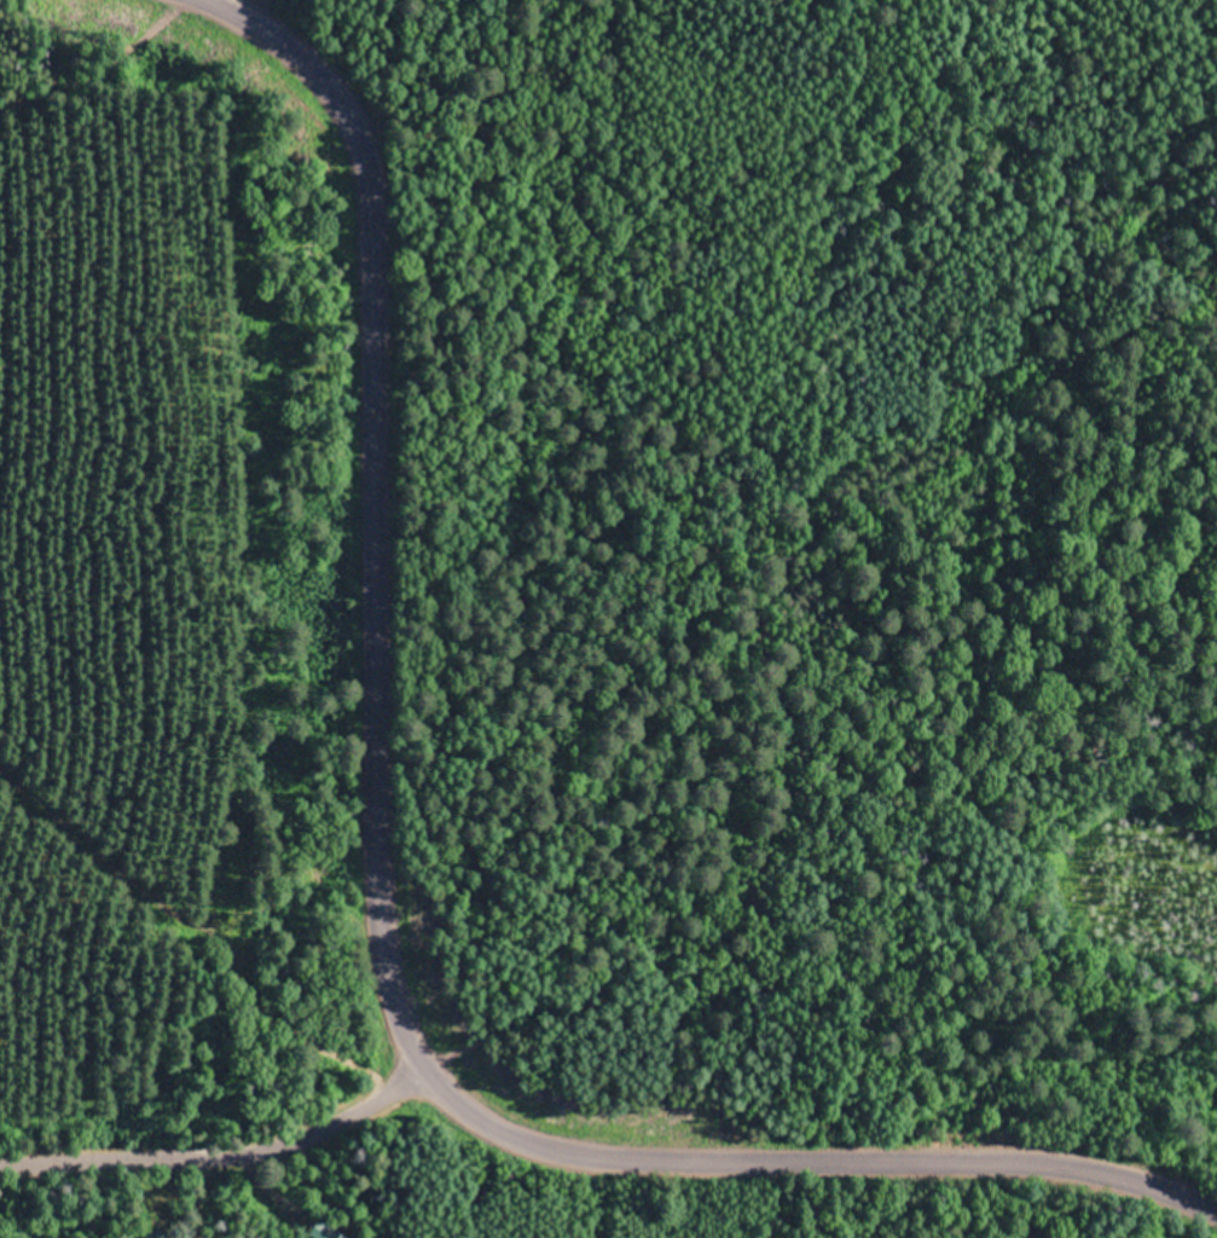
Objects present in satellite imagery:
road: (379, 922)
road: (211, 1141)

